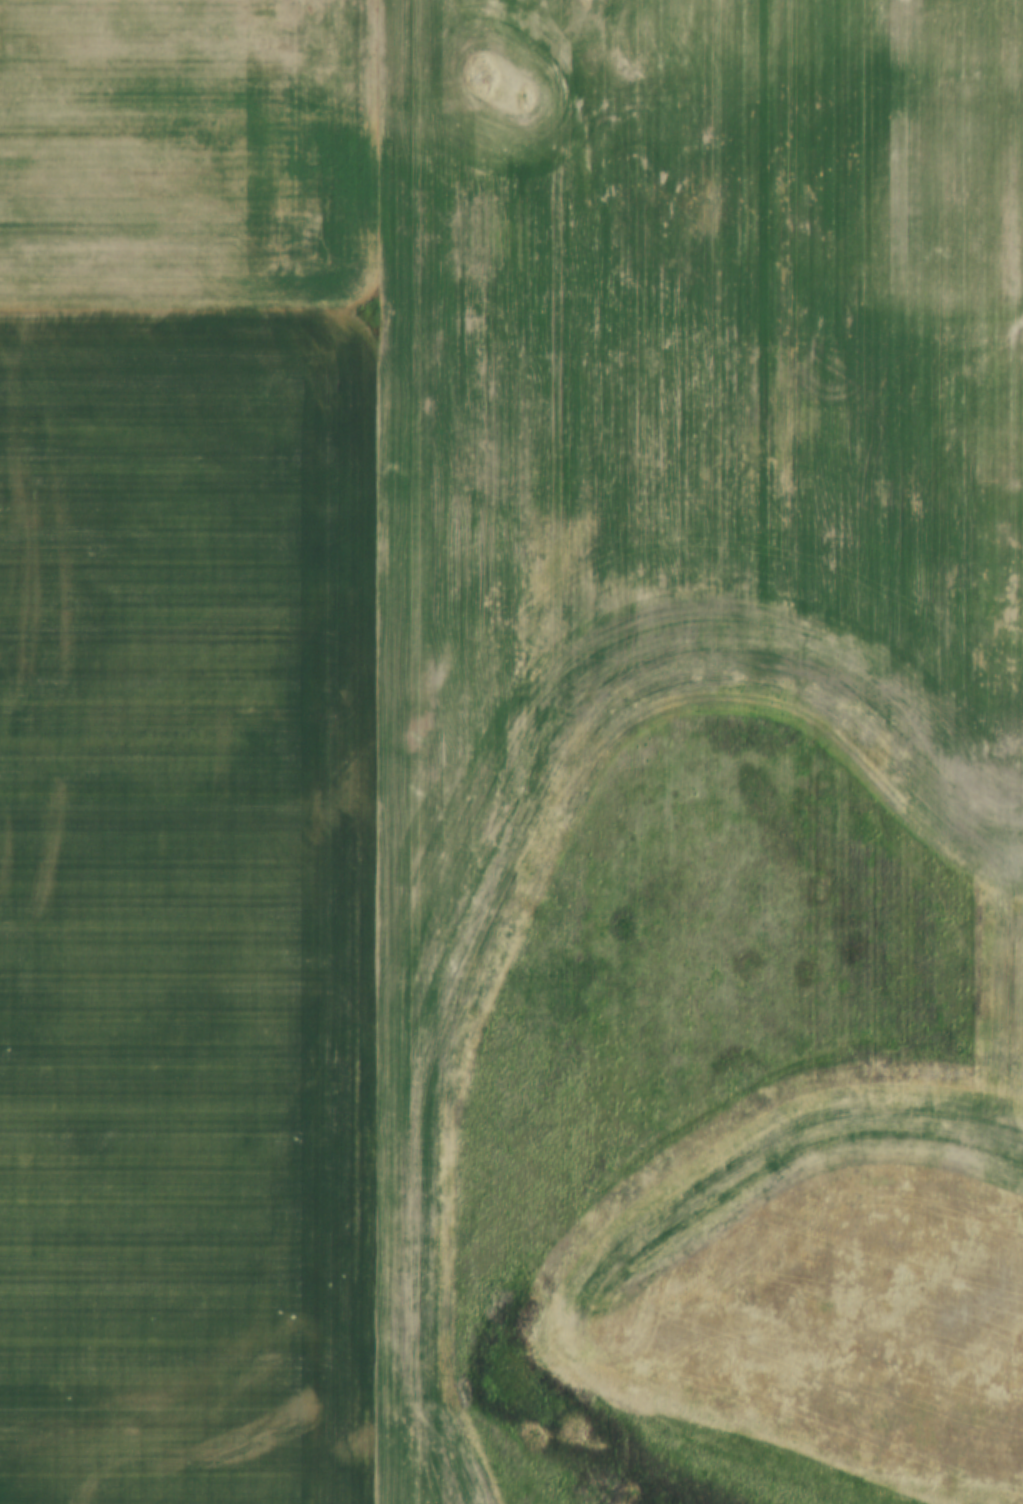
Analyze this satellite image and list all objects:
road: (191, 318)
road: (379, 751)

